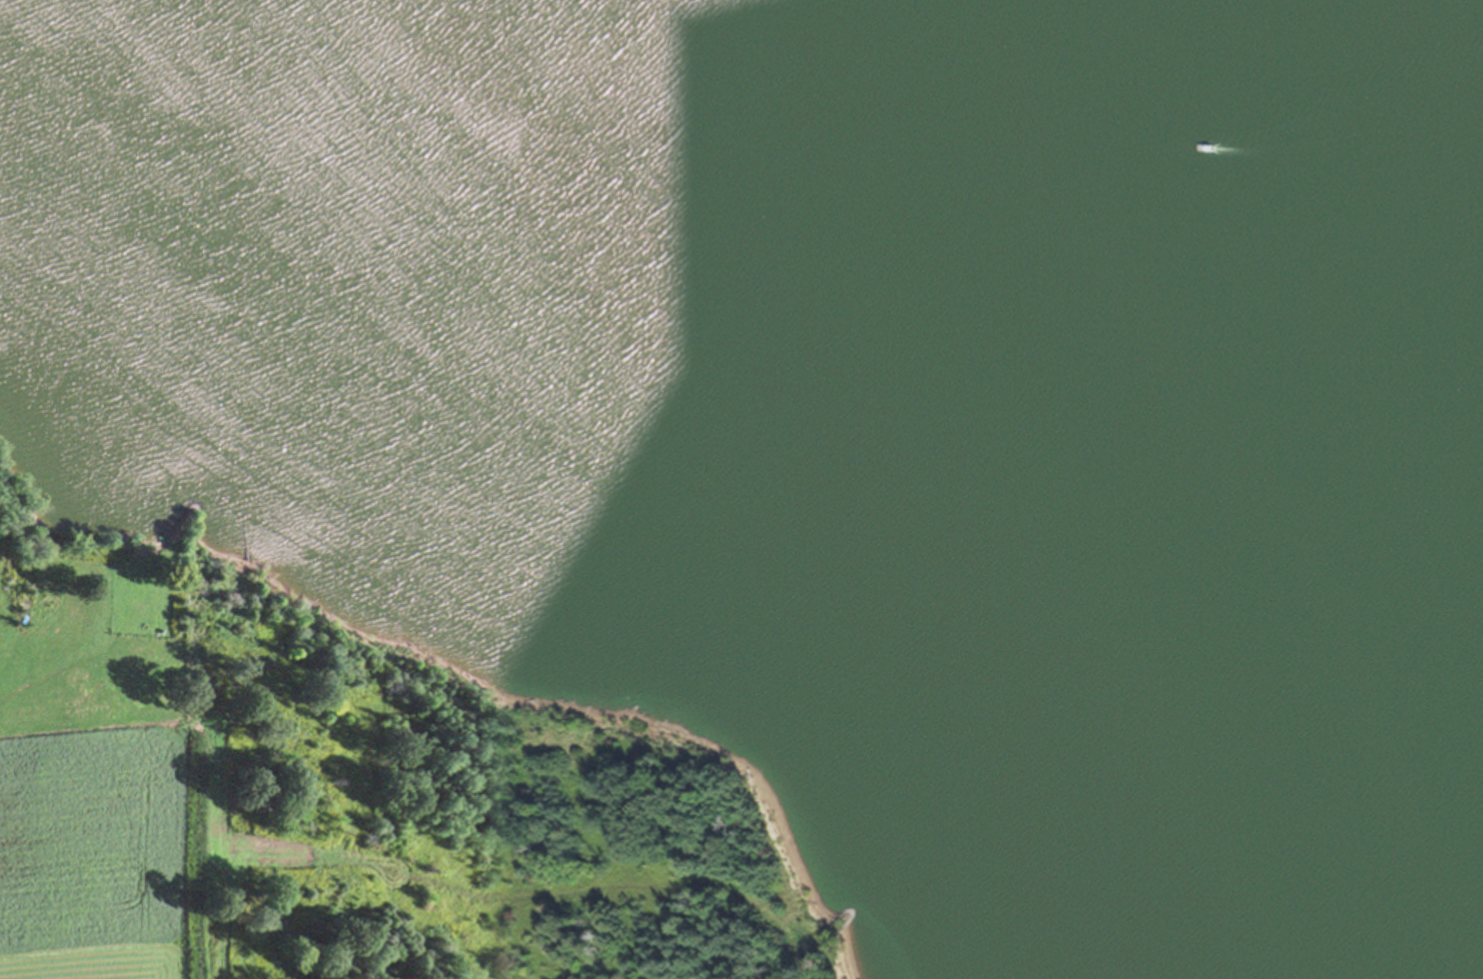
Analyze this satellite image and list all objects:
river: (1069, 230)
crop: (94, 850)

